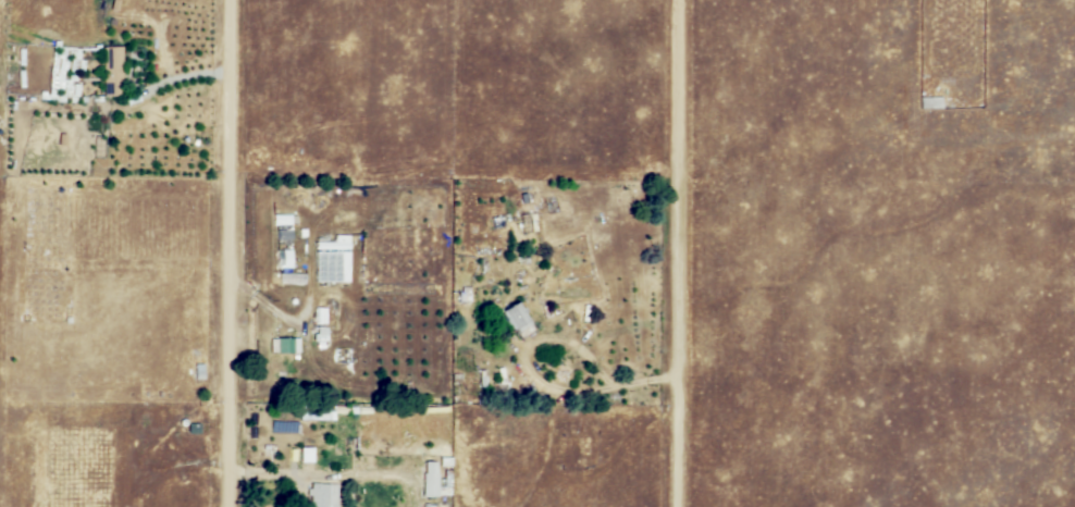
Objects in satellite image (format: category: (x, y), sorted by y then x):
building: (21, 59)
building: (113, 75)
building: (21, 81)
road: (169, 83)
building: (284, 220)
crop: (401, 233)
building: (286, 235)
road: (671, 252)
road: (224, 253)
building: (286, 258)
building: (332, 260)
building: (286, 280)
building: (518, 314)
building: (321, 318)
building: (320, 336)
crop: (400, 337)
building: (289, 345)
building: (344, 356)
building: (200, 371)
road: (535, 378)
building: (195, 428)
building: (308, 454)
road: (331, 473)
building: (431, 478)
building: (326, 495)

